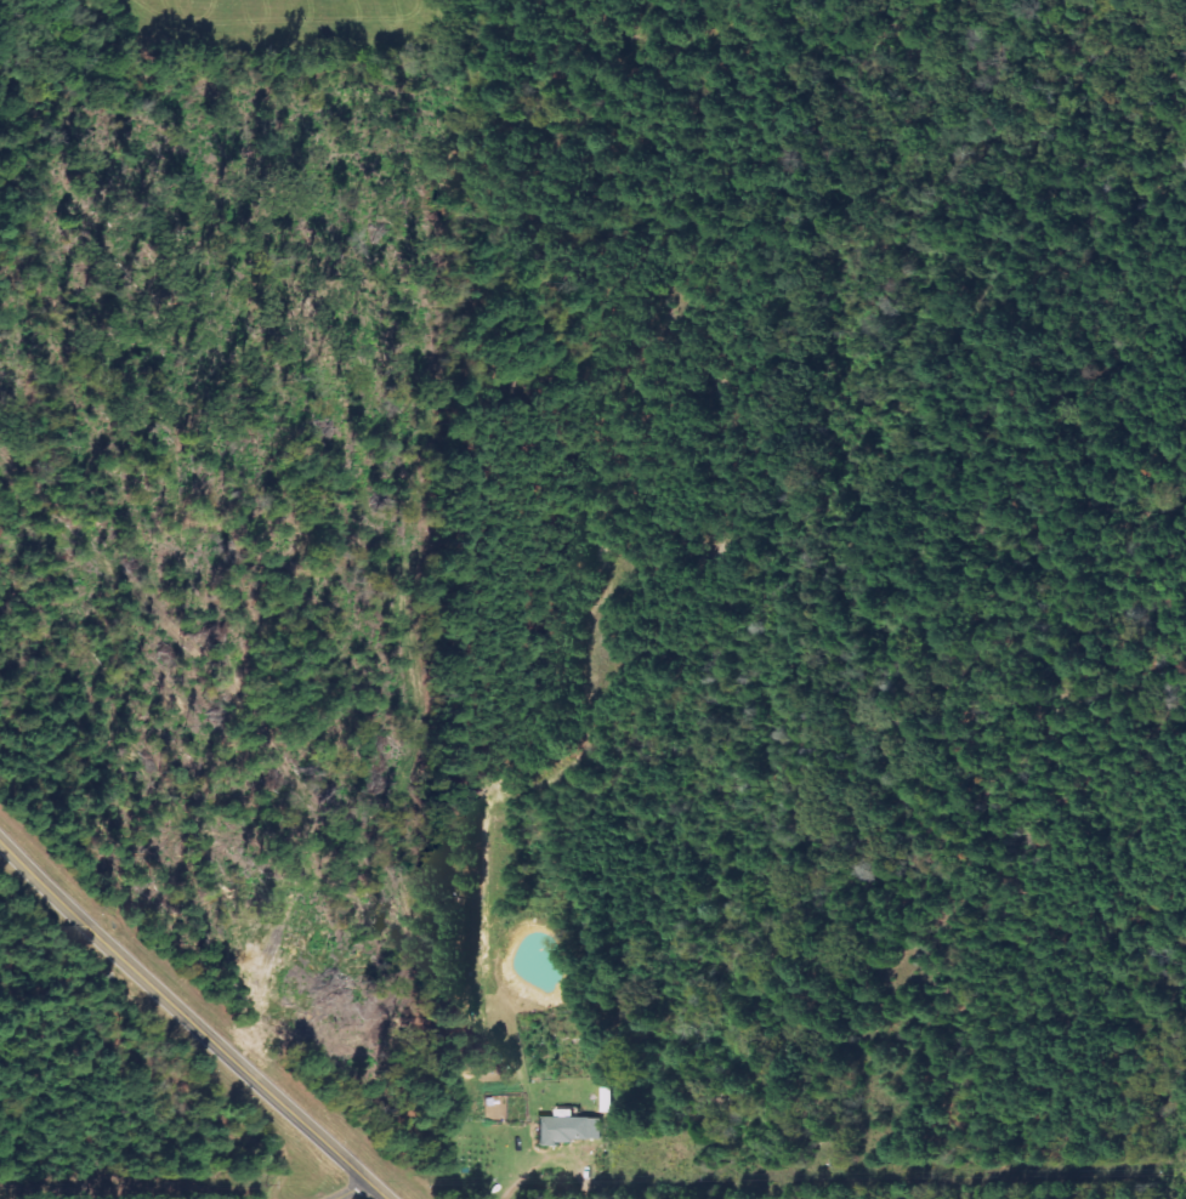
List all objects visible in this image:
road: (192, 1022)
building: (571, 1131)

